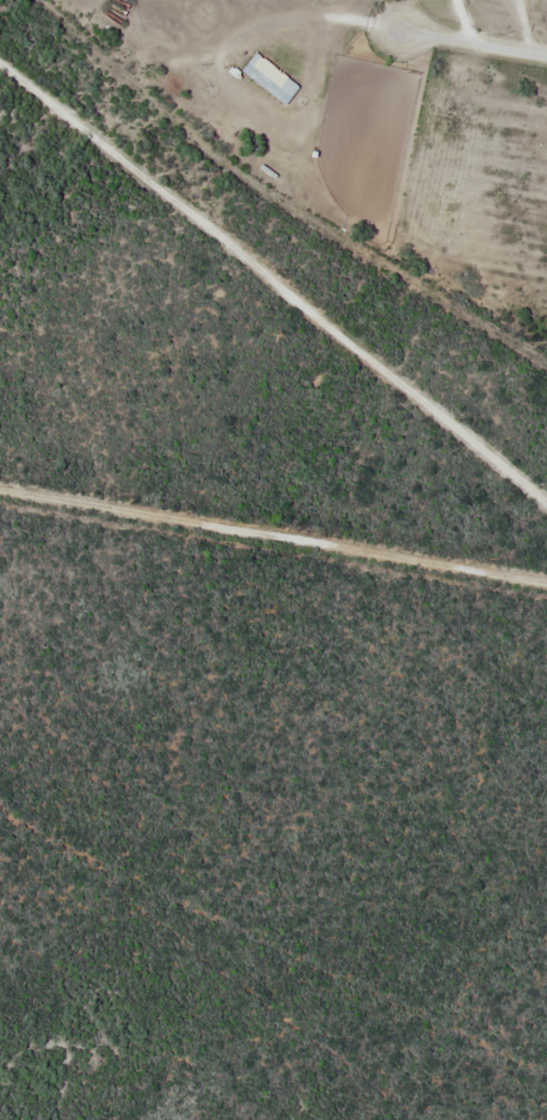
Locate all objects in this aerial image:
building: (267, 71)

